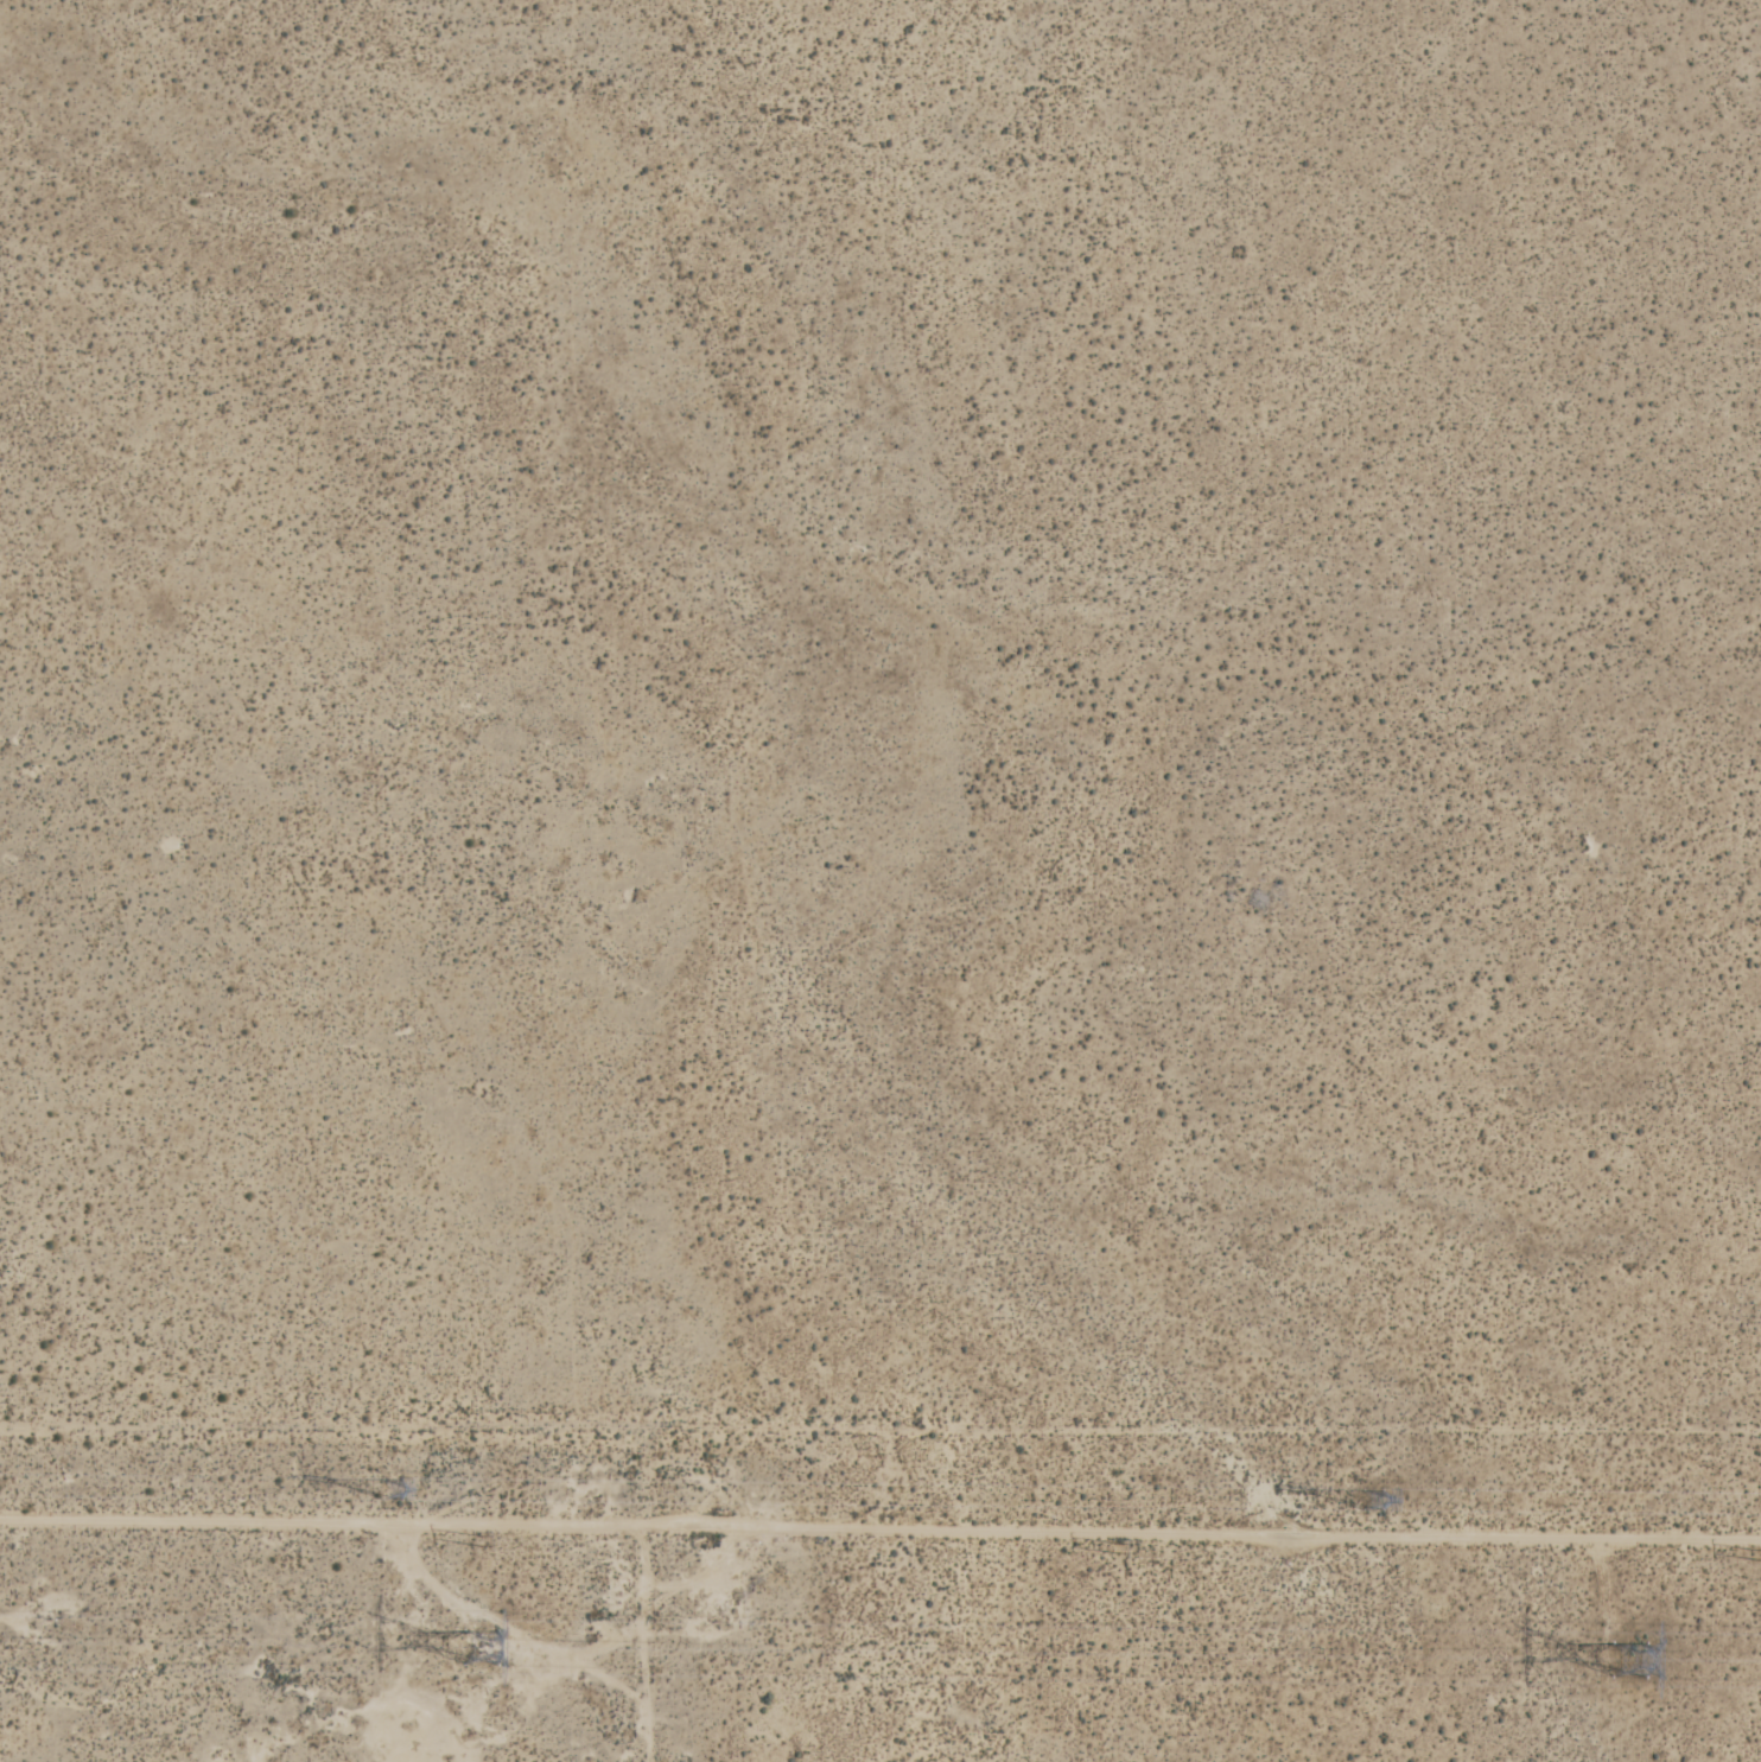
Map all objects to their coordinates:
road: (52, 362)
power tower: (384, 1490)
power tower: (1368, 1499)
road: (880, 1527)
power tower: (475, 1538)
power tower: (1112, 1547)
power tower: (1752, 1554)
power tower: (465, 1635)
power tower: (1615, 1661)

